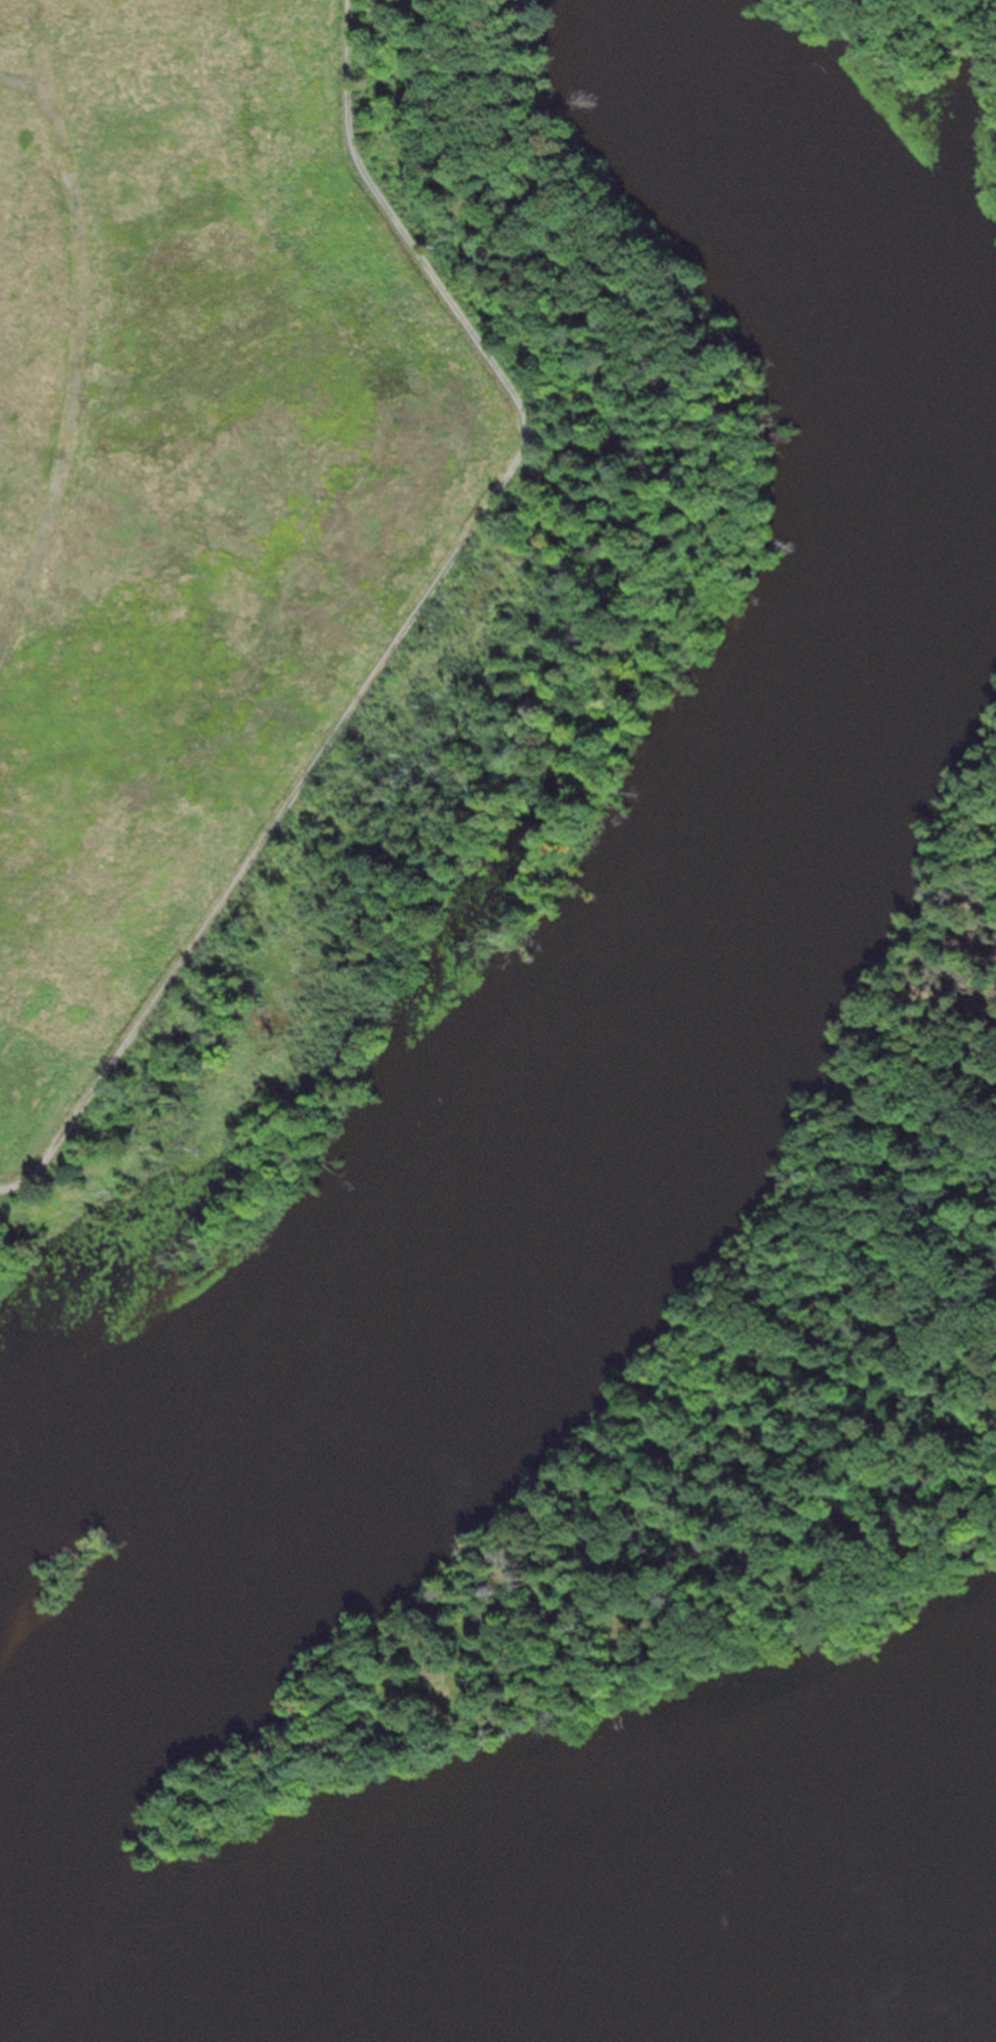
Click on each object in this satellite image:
river: (875, 1994)

